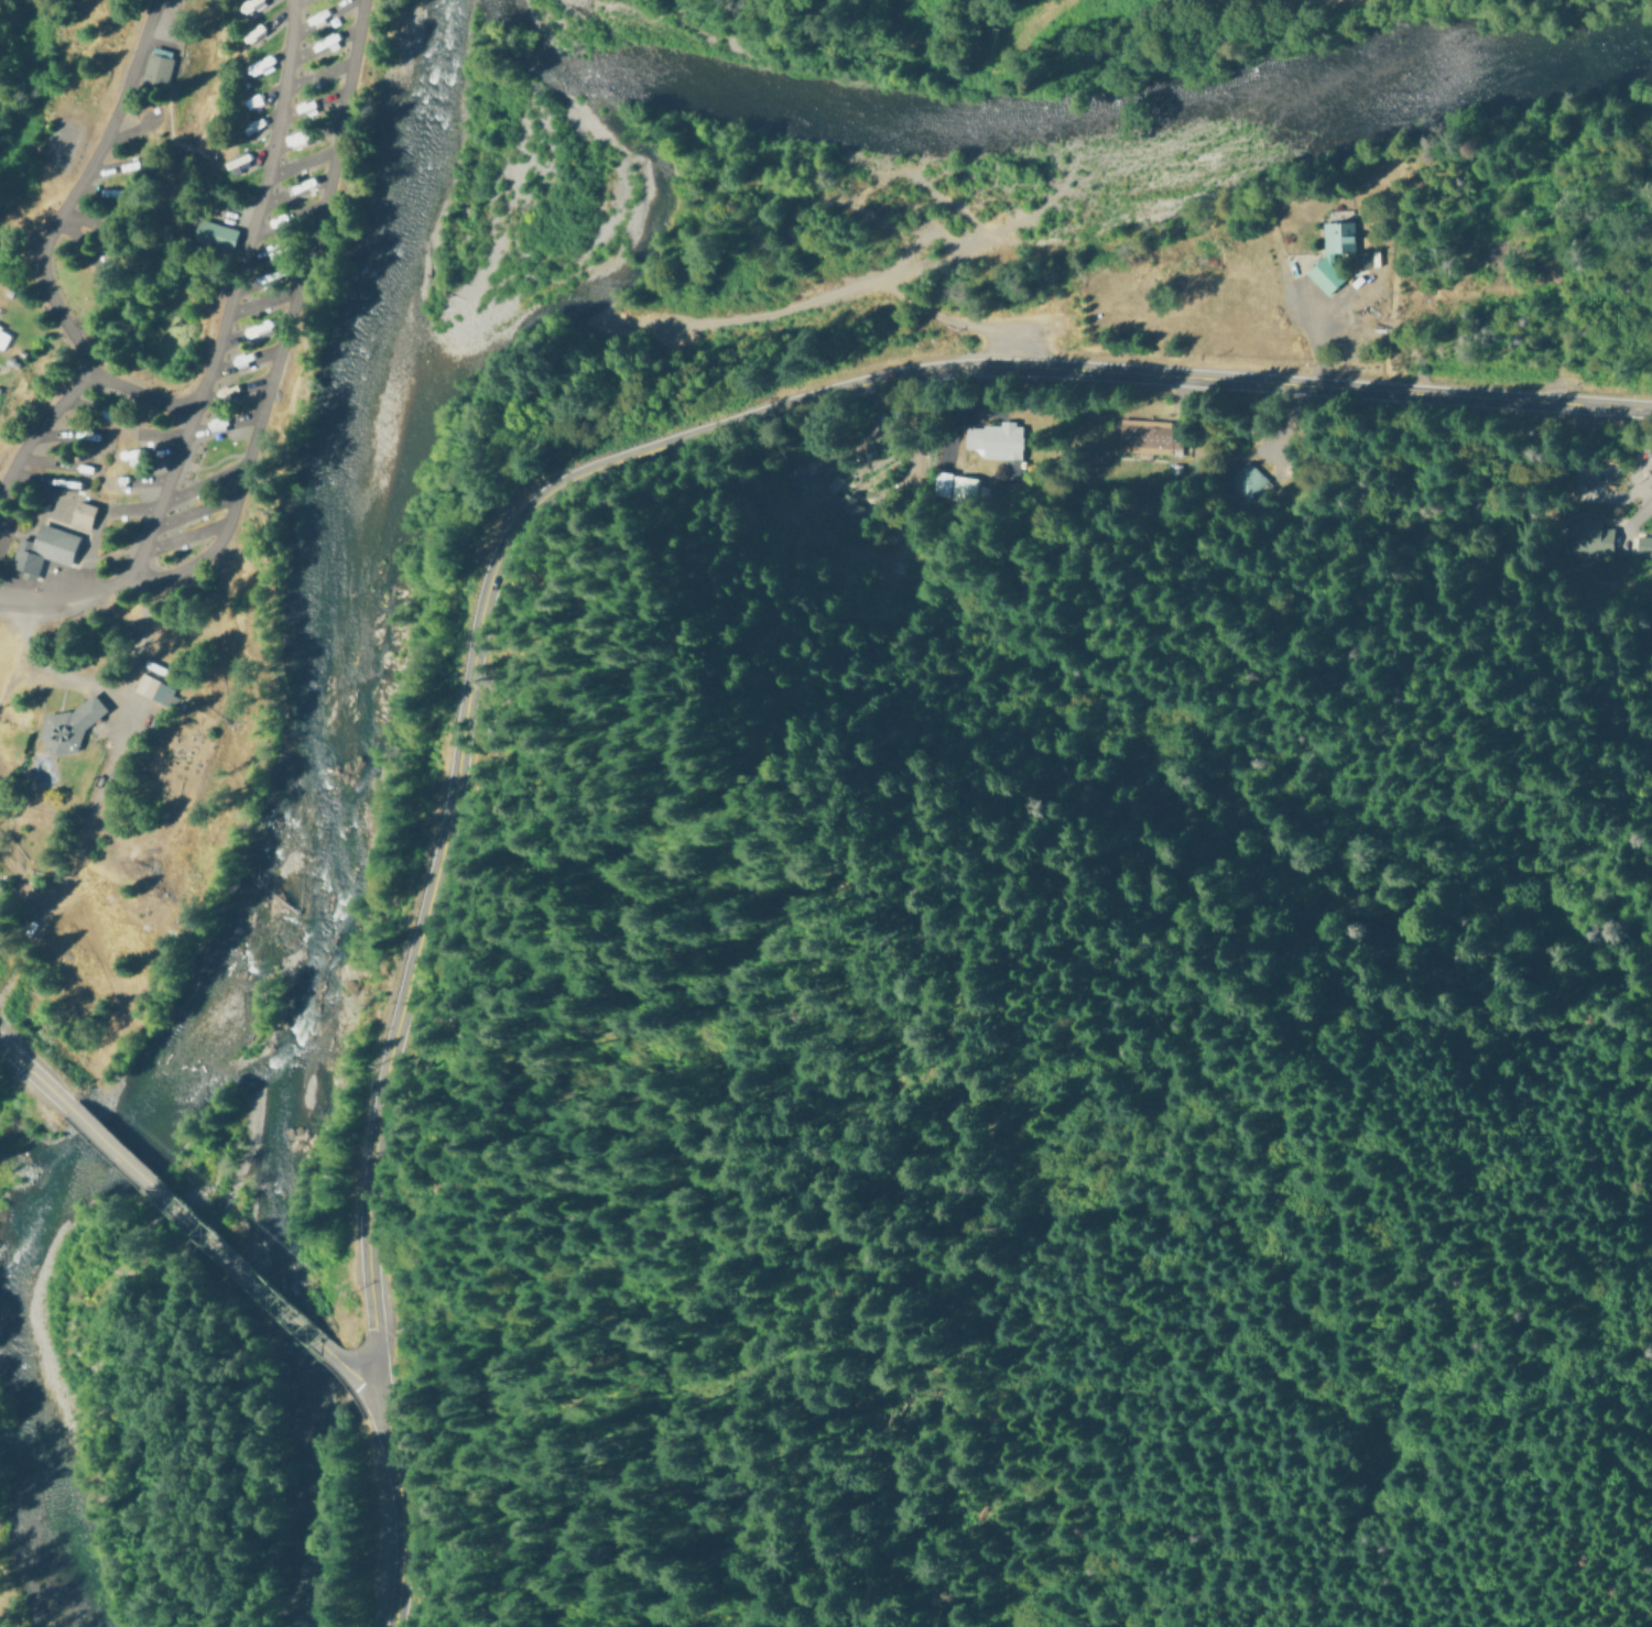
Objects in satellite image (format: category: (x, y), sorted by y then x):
road: (1264, 3)
building: (157, 65)
river: (1068, 114)
building: (215, 233)
road: (45, 234)
building: (1363, 258)
building: (1324, 259)
road: (228, 298)
road: (284, 325)
building: (3, 337)
road: (39, 425)
building: (1145, 436)
building: (798, 478)
building: (1246, 479)
building: (954, 485)
road: (526, 502)
building: (81, 513)
building: (1596, 536)
building: (1644, 546)
building: (43, 548)
road: (61, 596)
building: (154, 689)
building: (66, 728)
river: (274, 849)
road: (34, 1078)
road: (197, 1241)
road: (351, 1385)

